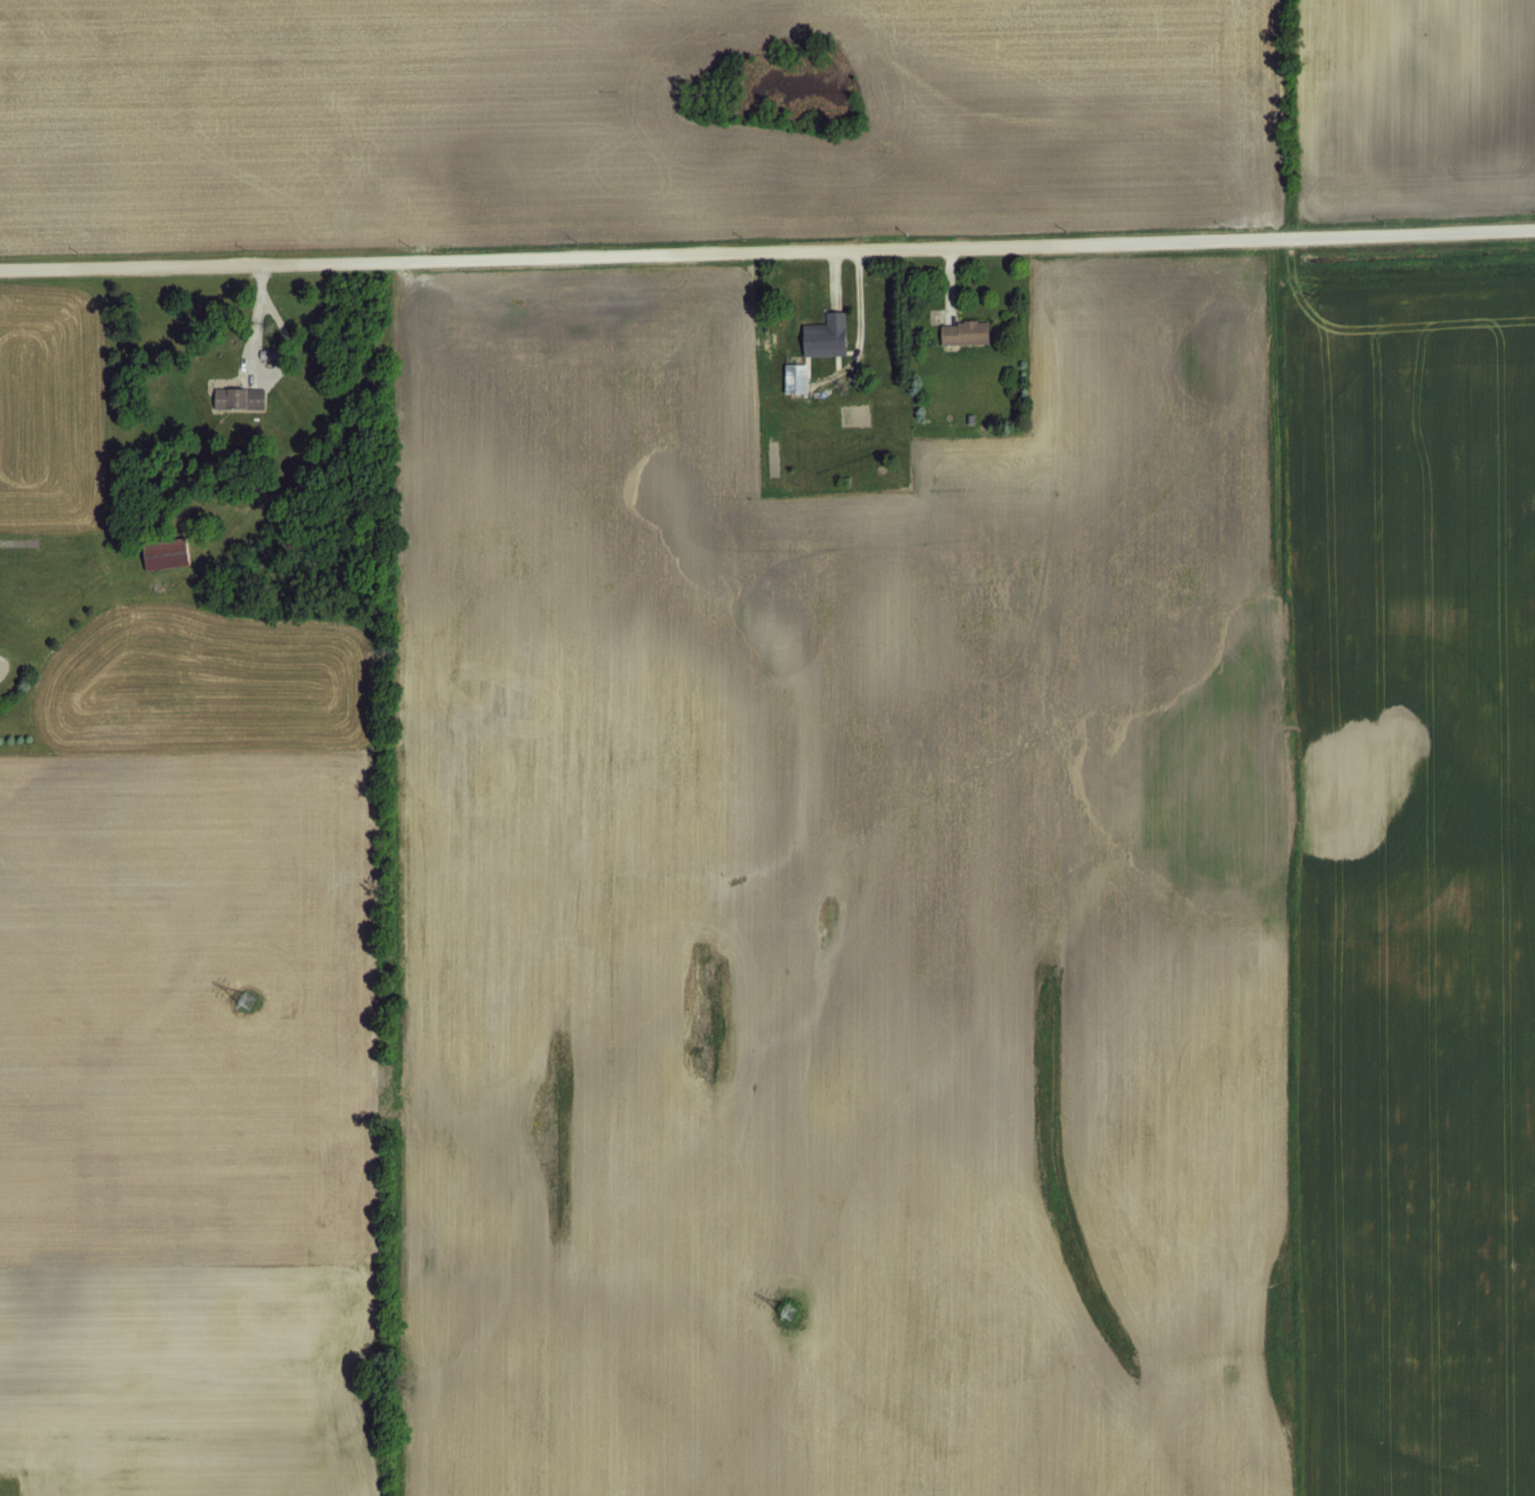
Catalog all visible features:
road: (767, 244)
building: (961, 331)
building: (823, 335)
building: (793, 378)
building: (237, 398)
building: (161, 553)
power tower: (248, 1003)
power tower: (778, 1308)

